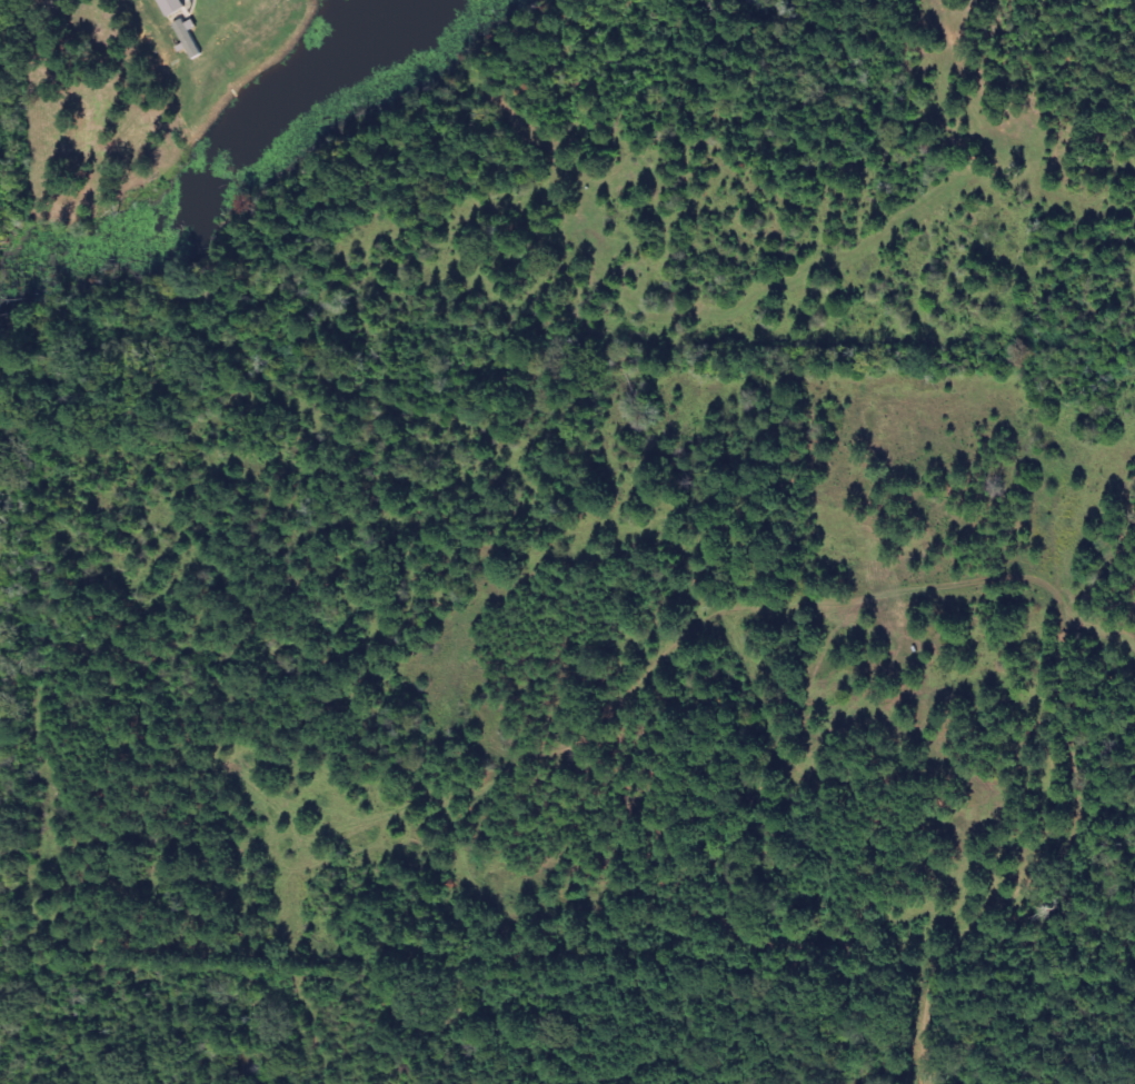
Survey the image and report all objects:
building: (172, 7)
building: (189, 37)

